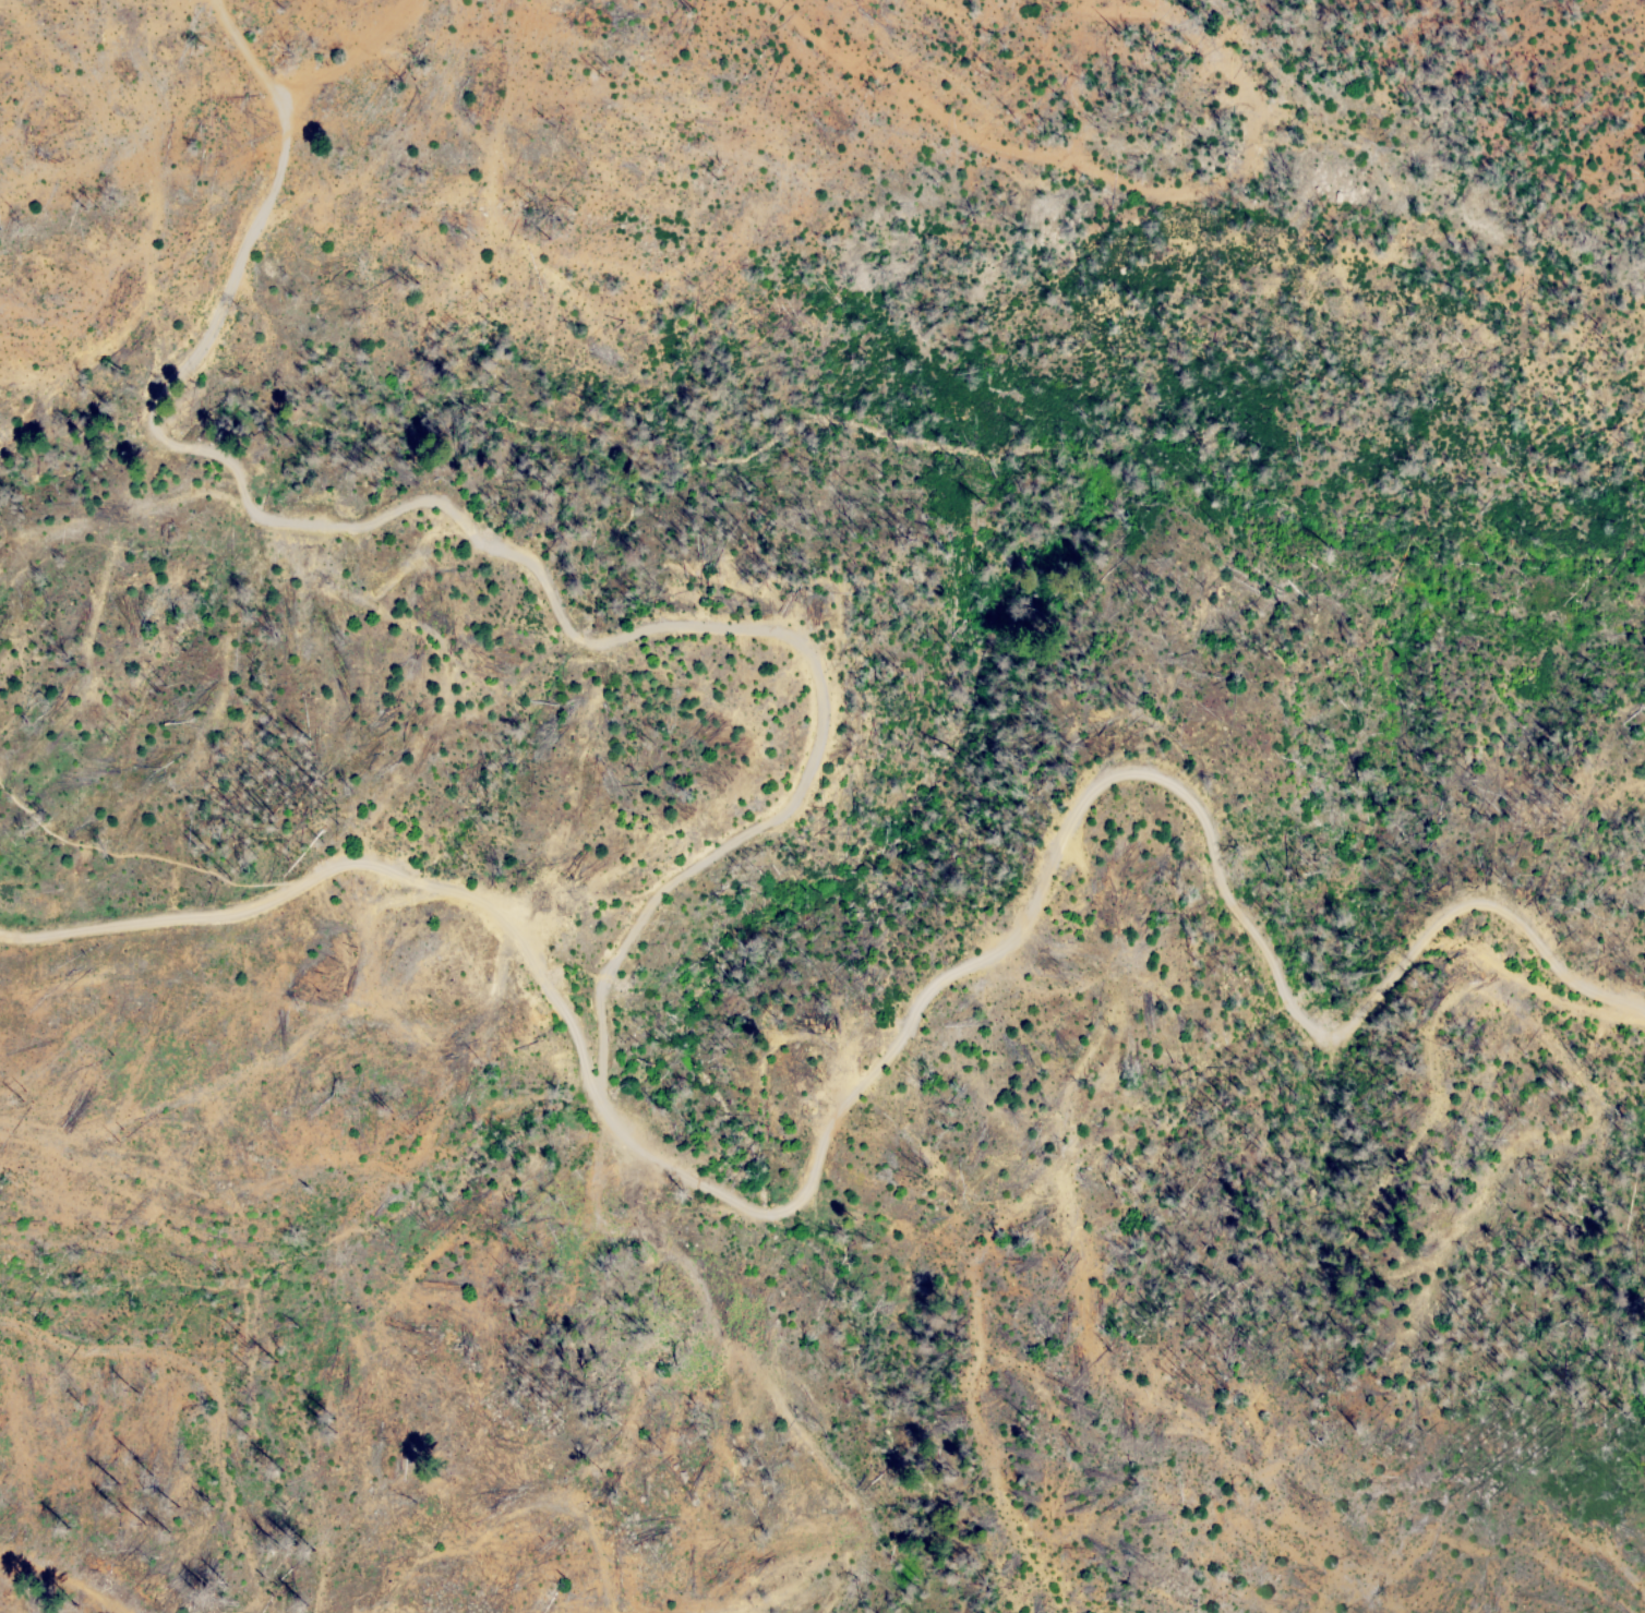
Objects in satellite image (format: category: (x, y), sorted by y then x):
road: (142, 858)
road: (299, 884)
road: (555, 994)

